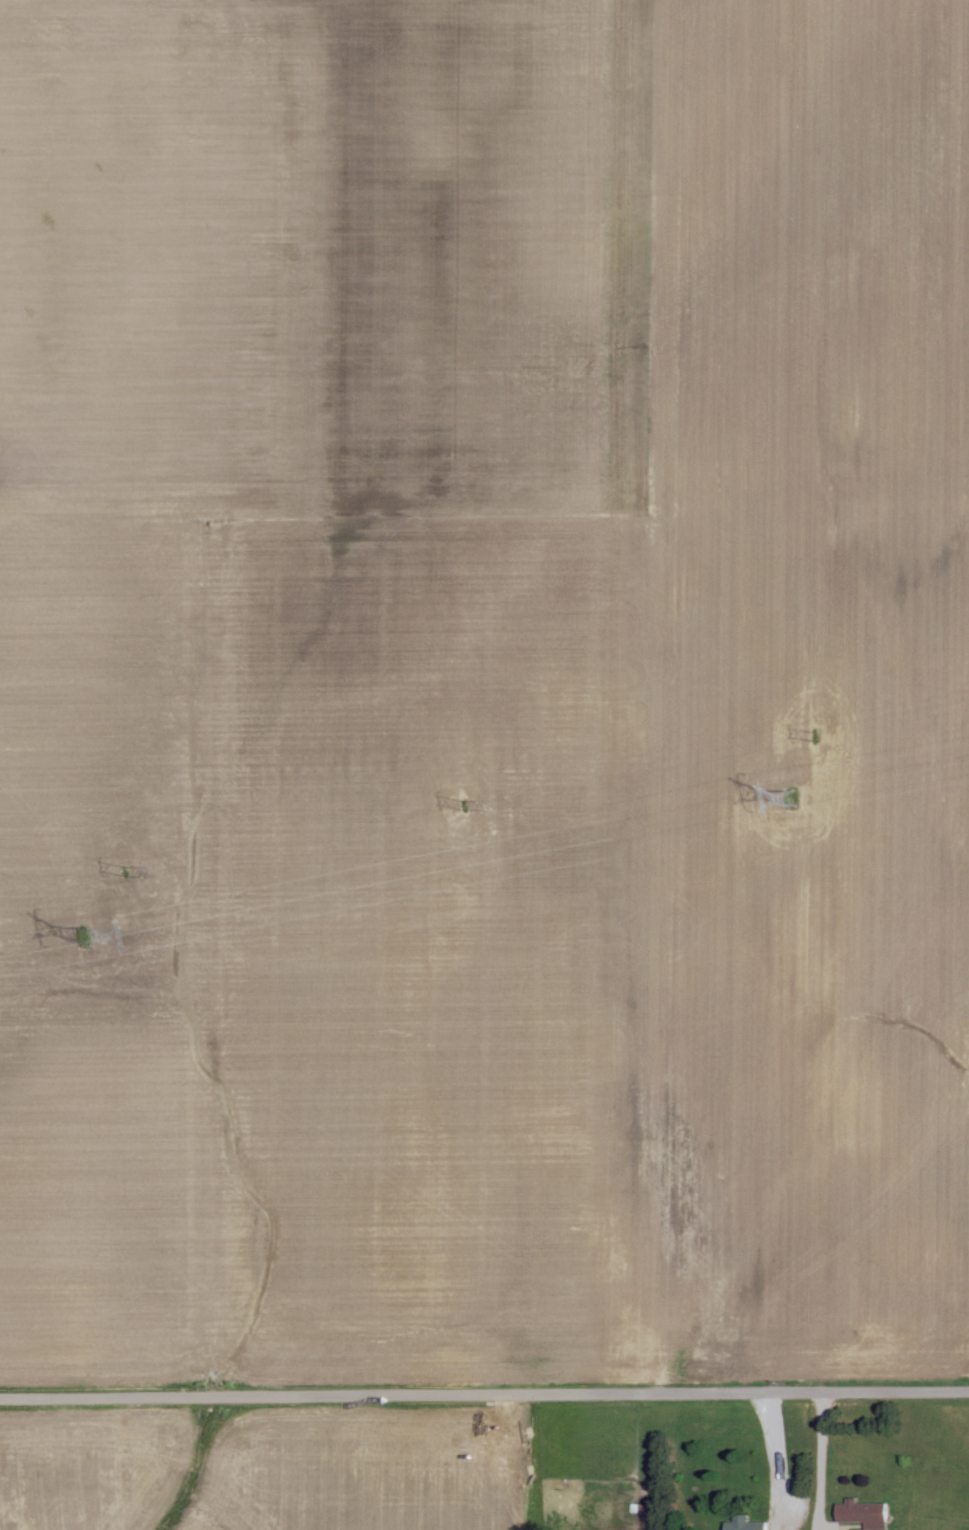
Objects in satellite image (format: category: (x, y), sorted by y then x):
power tower: (817, 732)
power tower: (792, 797)
power tower: (463, 802)
power tower: (123, 868)
power tower: (84, 936)
road: (484, 1388)
road: (764, 1452)
road: (812, 1452)
building: (869, 1514)
building: (750, 1524)

